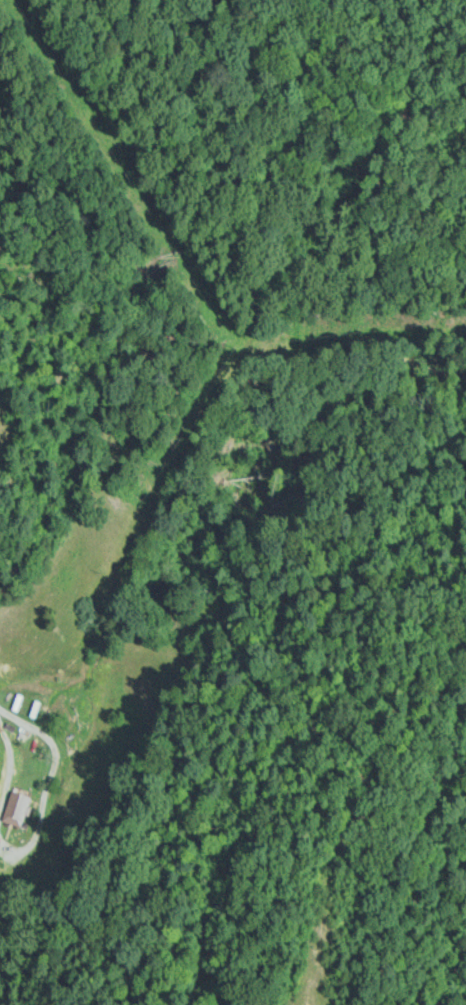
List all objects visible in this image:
building: (14, 807)

